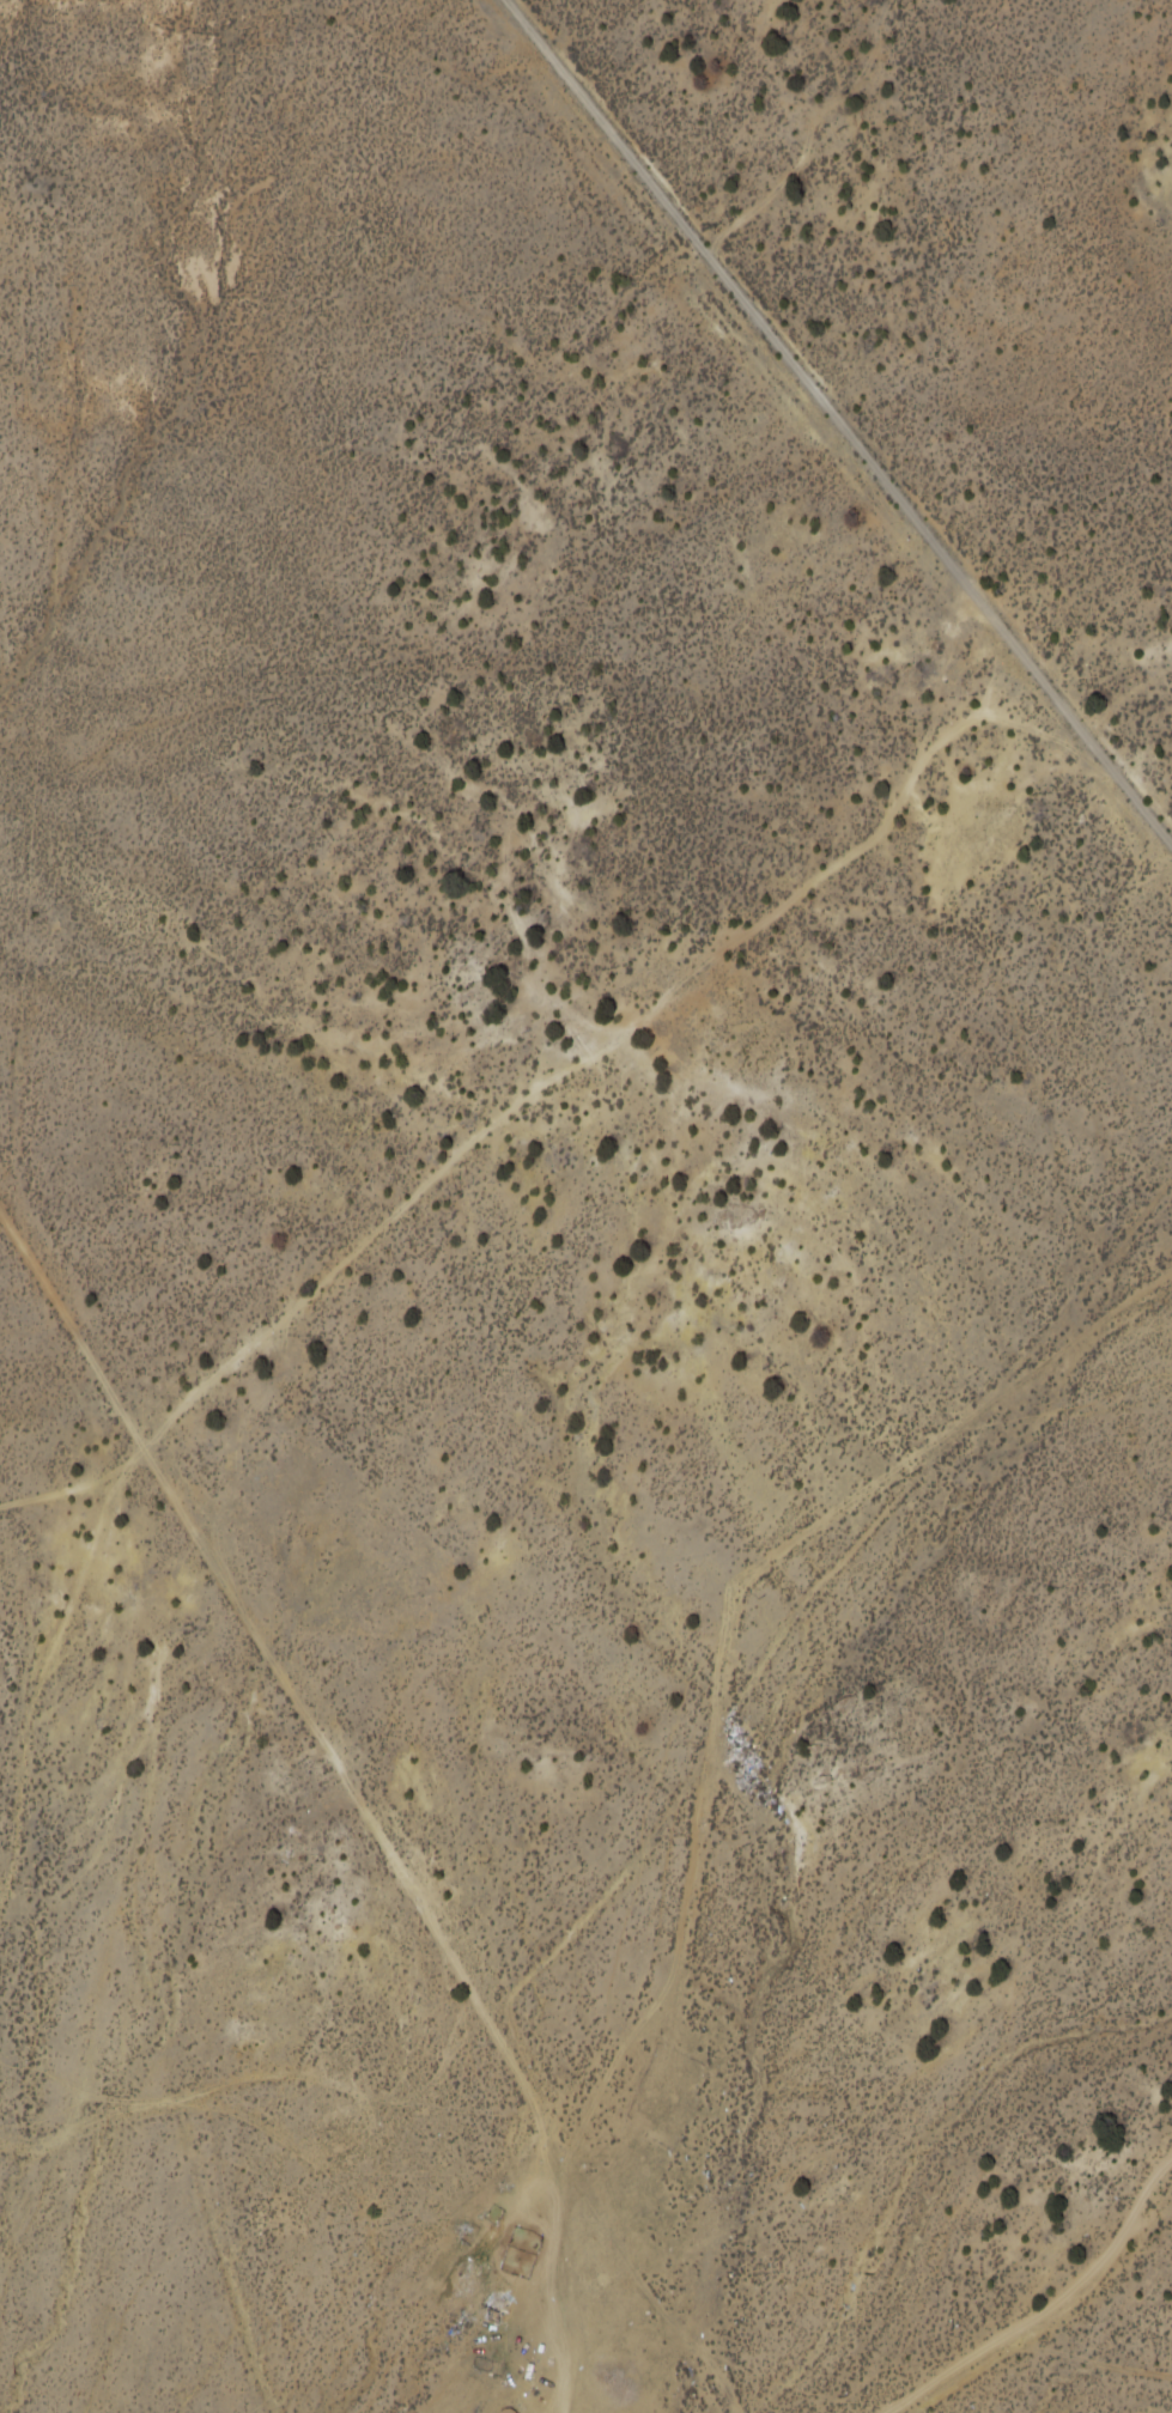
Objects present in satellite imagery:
road: (825, 449)
road: (344, 1258)

